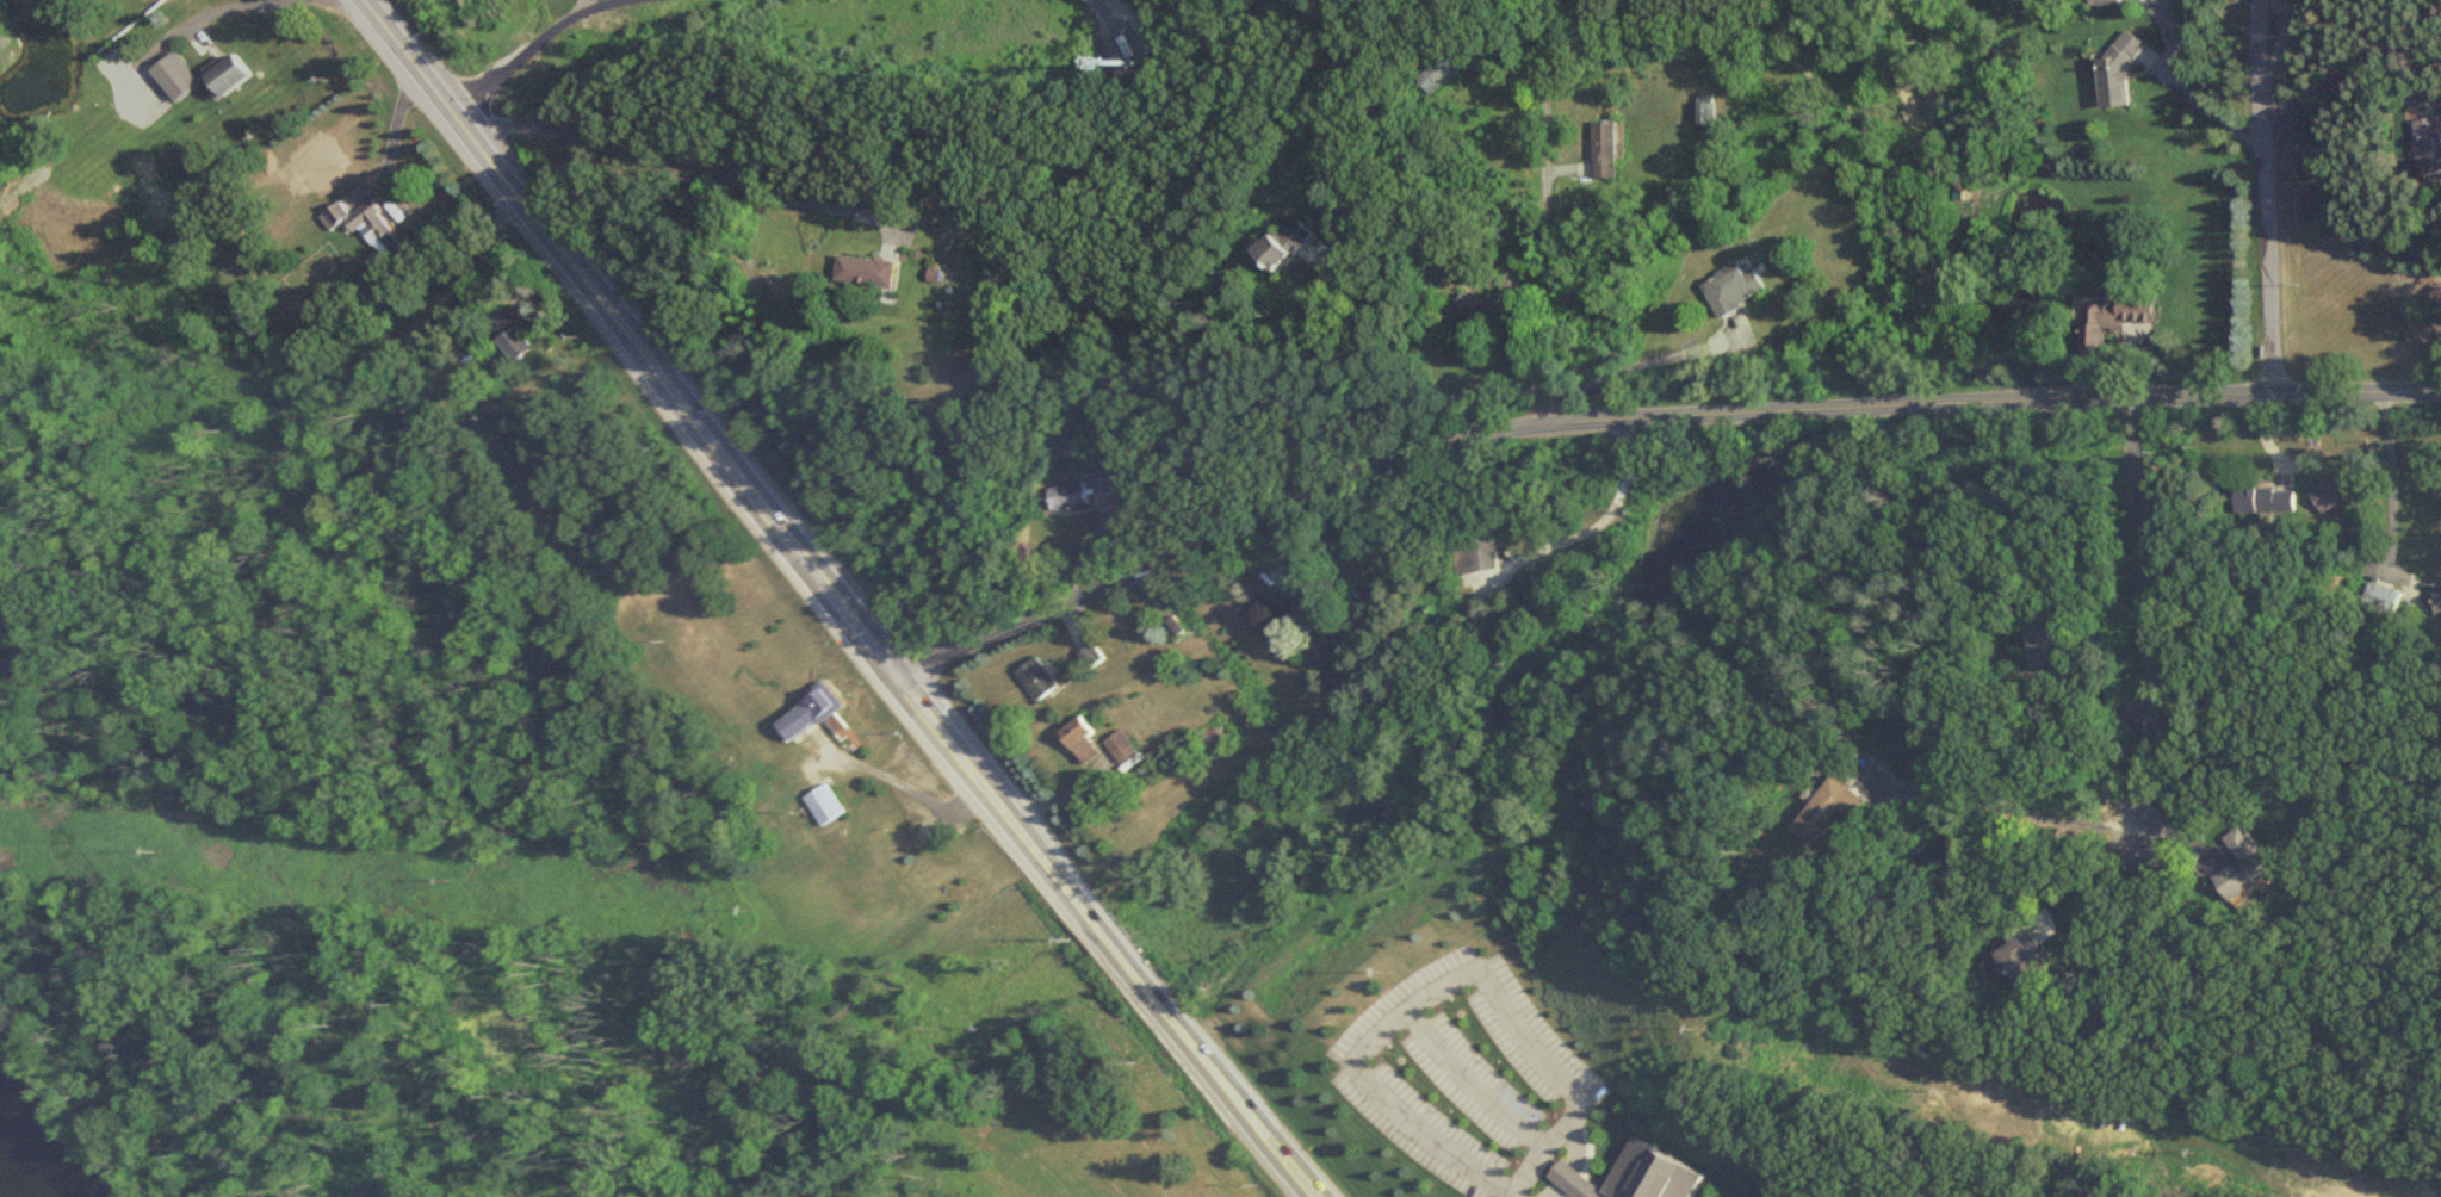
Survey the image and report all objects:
building: (2101, 2)
road: (230, 6)
road: (1097, 8)
building: (1132, 42)
road: (2276, 43)
road: (519, 48)
building: (1109, 50)
building: (1436, 72)
building: (230, 75)
building: (2113, 75)
building: (175, 77)
road: (2341, 85)
road: (2176, 92)
building: (1702, 114)
road: (391, 126)
building: (2424, 149)
building: (1601, 150)
road: (689, 168)
road: (2261, 197)
road: (1544, 209)
building: (361, 224)
building: (1278, 248)
building: (865, 273)
building: (936, 275)
building: (1730, 292)
building: (1420, 294)
building: (1481, 311)
building: (2109, 320)
building: (512, 336)
road: (1636, 365)
road: (1370, 374)
road: (1643, 415)
road: (2393, 477)
building: (1097, 484)
building: (2327, 494)
building: (1066, 496)
building: (2263, 500)
road: (1607, 516)
building: (1470, 552)
building: (1538, 588)
road: (837, 598)
building: (2381, 598)
road: (2149, 609)
building: (2042, 640)
building: (1036, 678)
road: (2098, 690)
building: (808, 711)
building: (1097, 742)
building: (824, 805)
road: (2015, 807)
building: (1815, 817)
road: (2077, 866)
building: (2239, 868)
building: (2019, 962)
road: (1415, 984)
road: (1457, 1078)
building: (1623, 1176)
road: (1507, 1193)

